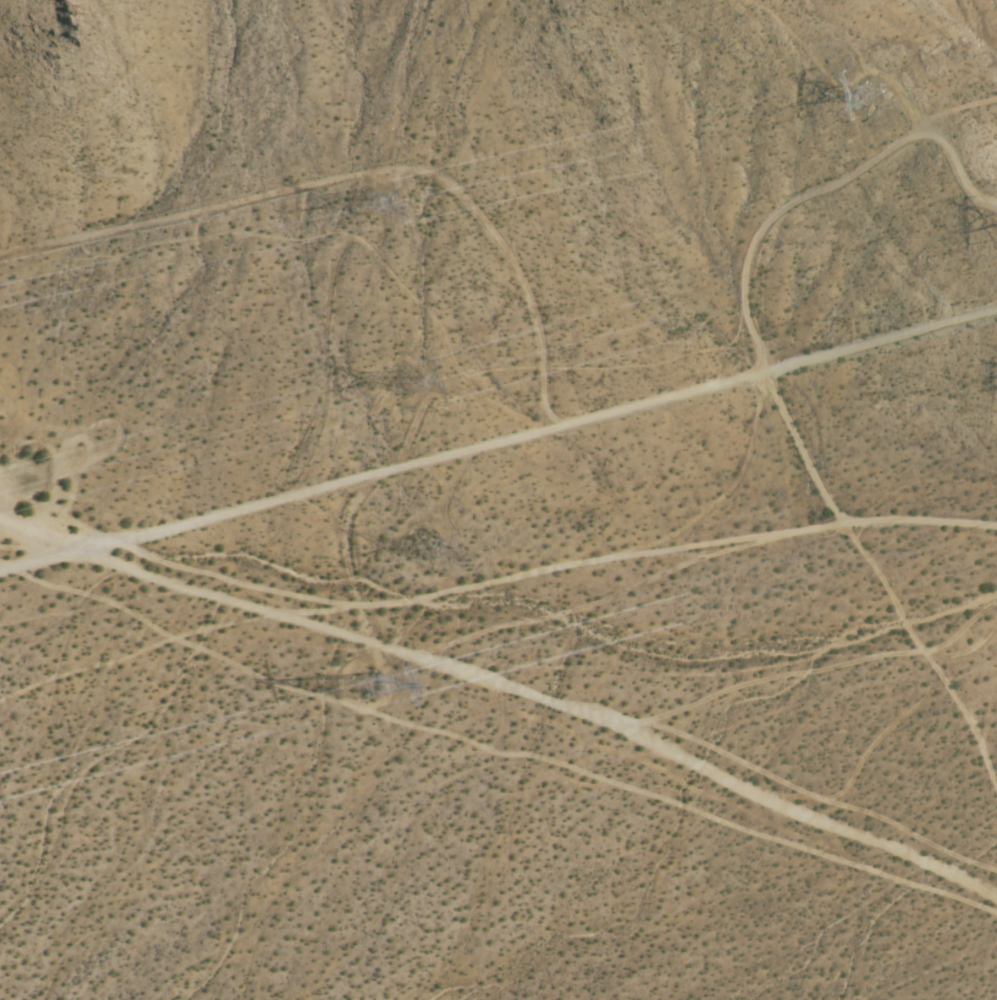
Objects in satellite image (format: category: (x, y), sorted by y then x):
power tower: (877, 91)
power tower: (380, 197)
power tower: (419, 382)
road: (498, 436)
power tower: (435, 546)
road: (507, 680)
power tower: (374, 686)

